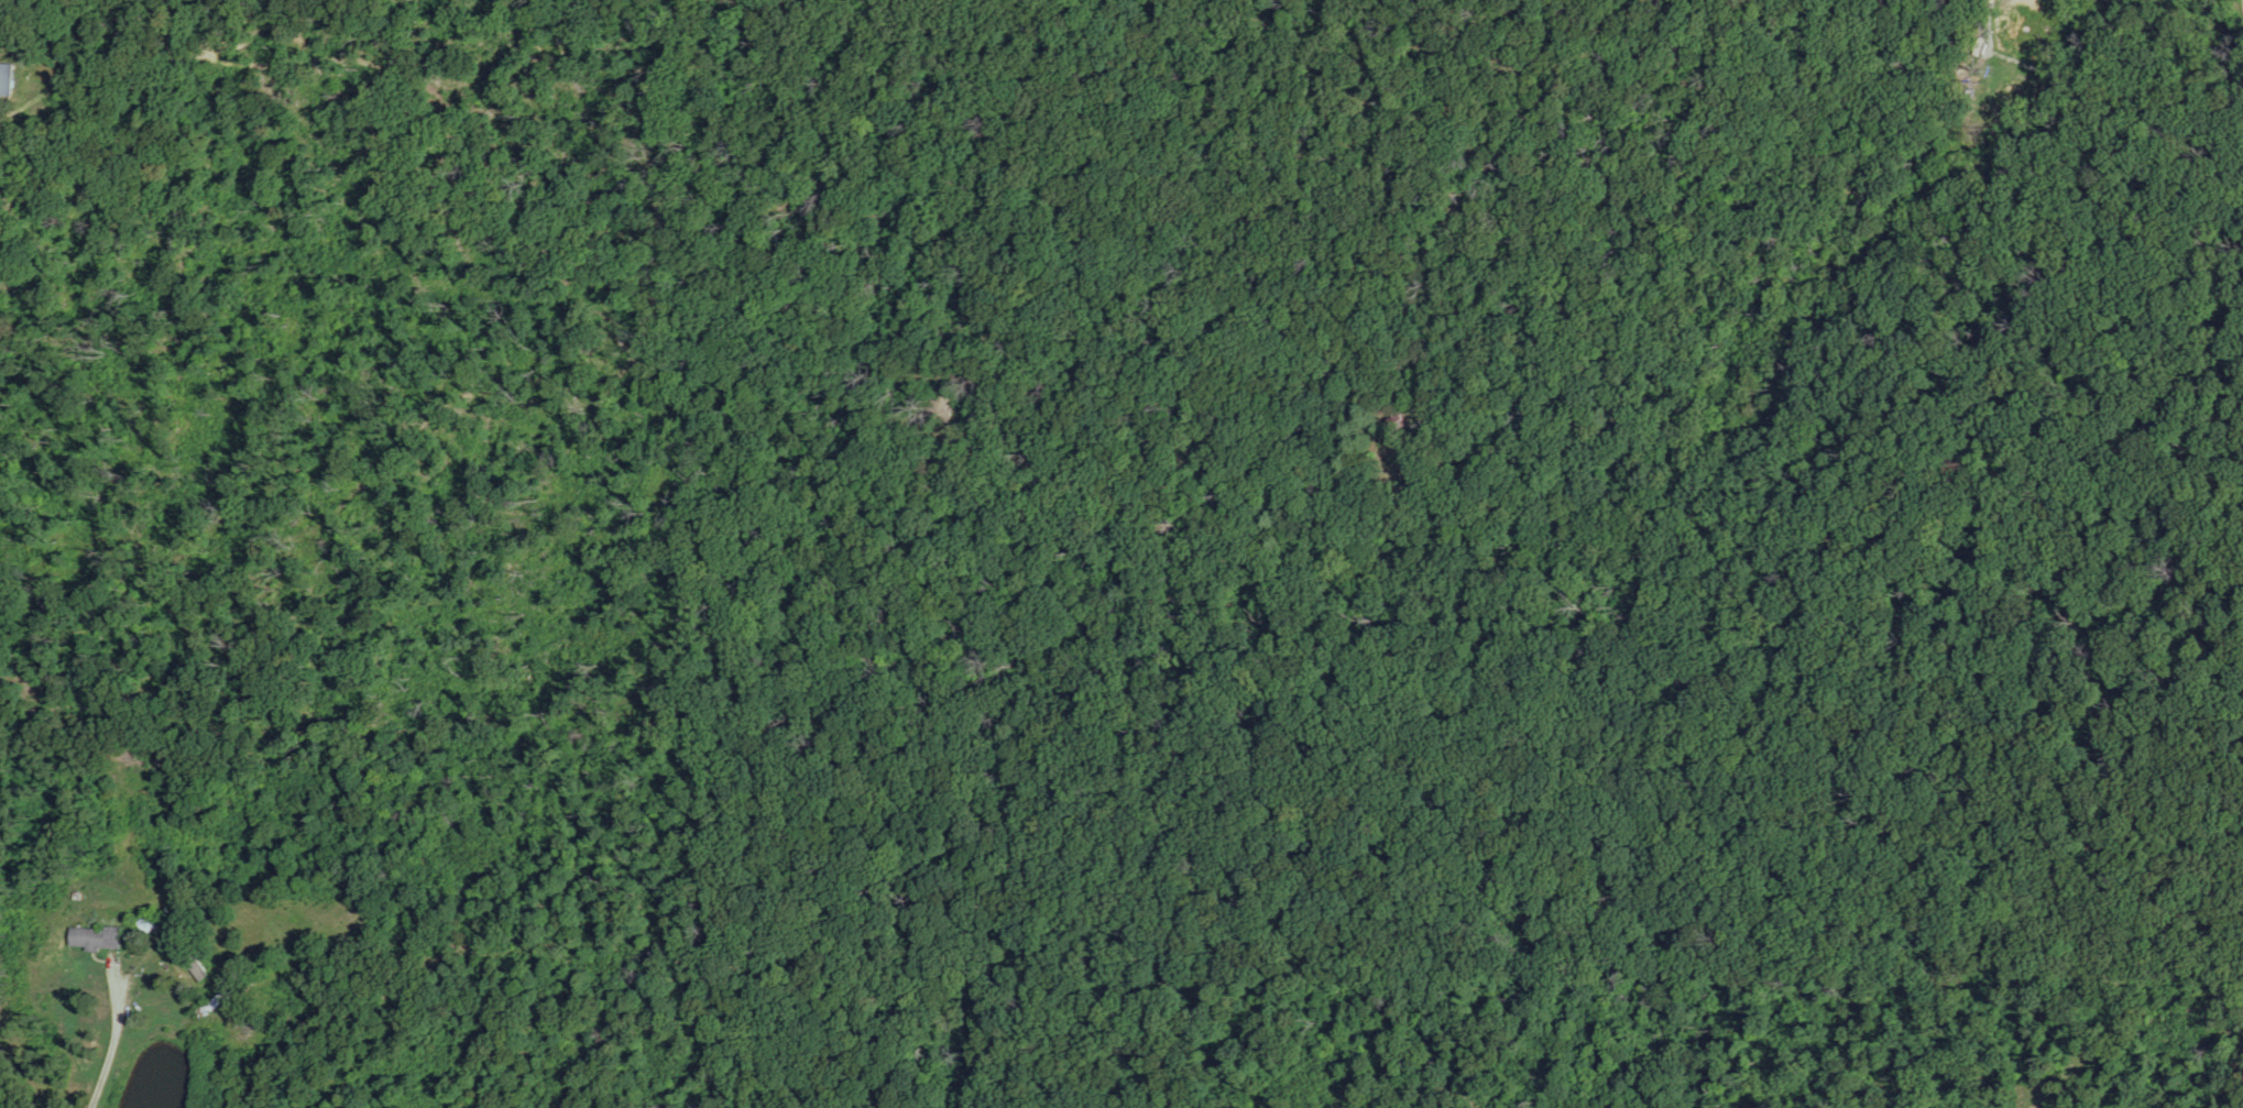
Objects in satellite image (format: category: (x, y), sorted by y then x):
building: (7, 78)
road: (1404, 318)
building: (151, 921)
building: (99, 939)
building: (197, 969)
road: (118, 1040)

